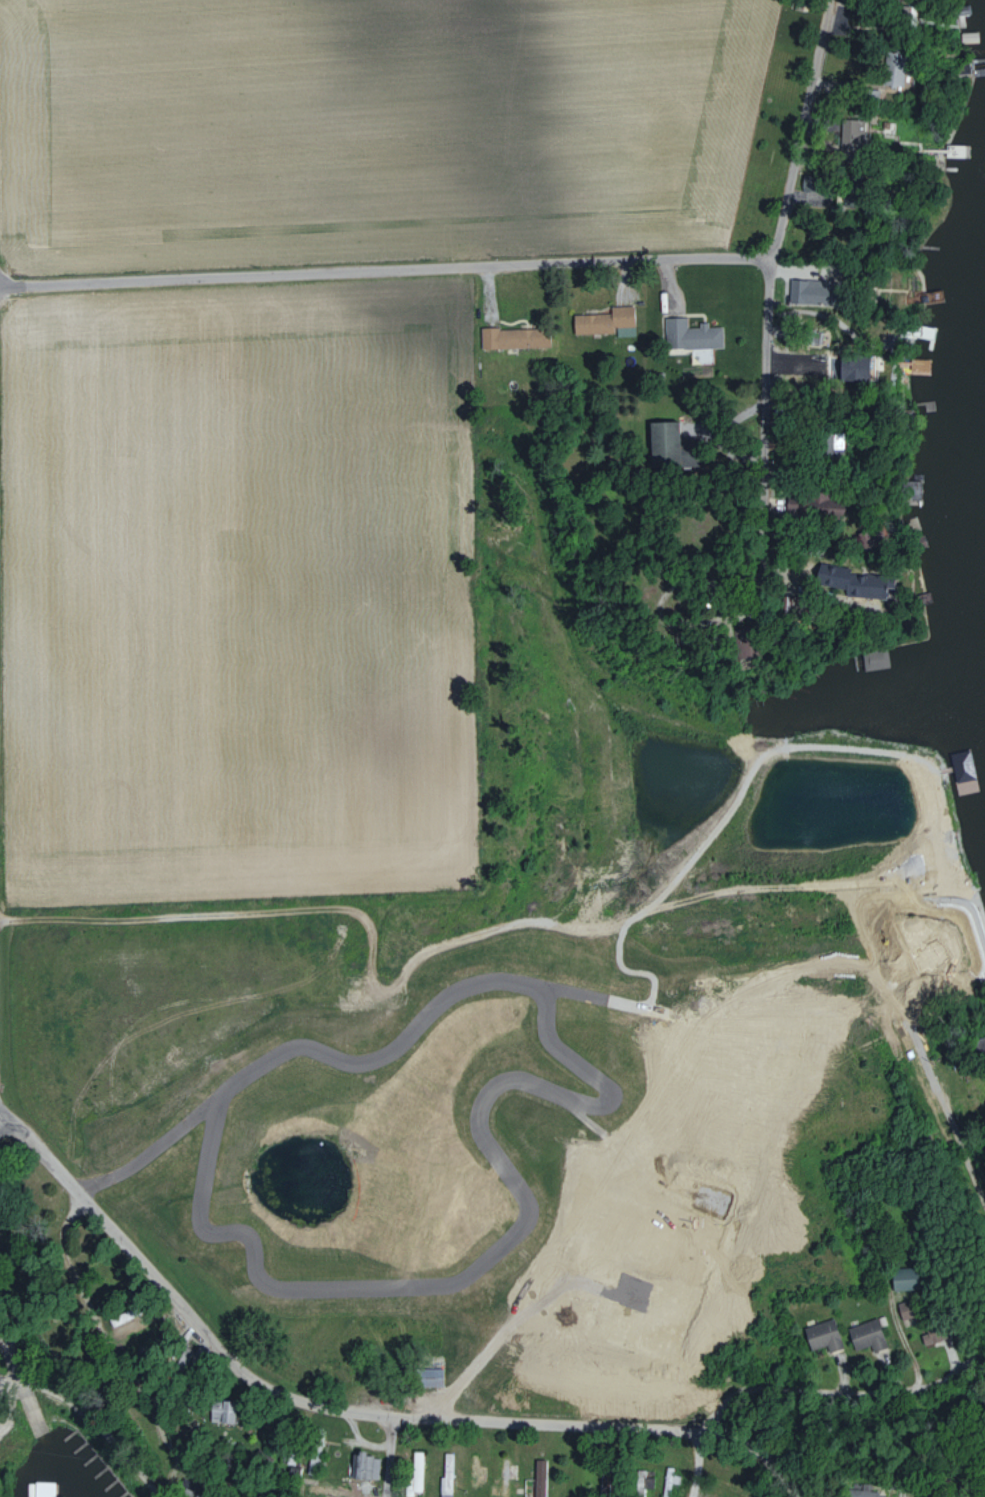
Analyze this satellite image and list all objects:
building: (891, 72)
building: (849, 135)
road: (383, 268)
building: (807, 292)
road: (767, 299)
building: (602, 321)
building: (624, 332)
building: (690, 335)
building: (810, 337)
building: (513, 338)
building: (852, 368)
building: (826, 442)
building: (908, 489)
building: (870, 584)
road: (810, 590)
building: (874, 659)
building: (962, 771)
road: (453, 908)
road: (936, 1055)
building: (903, 1278)
building: (119, 1318)
building: (823, 1335)
building: (865, 1335)
road: (118, 1346)
building: (428, 1377)
road: (858, 1392)
road: (307, 1399)
building: (219, 1412)
road: (390, 1453)
road: (766, 1458)
road: (701, 1460)
building: (365, 1467)
building: (414, 1474)
building: (504, 1475)
building: (446, 1476)
building: (538, 1478)
building: (643, 1479)
building: (669, 1480)
building: (44, 1489)
building: (326, 1490)
road: (974, 1492)
building: (861, 1493)

